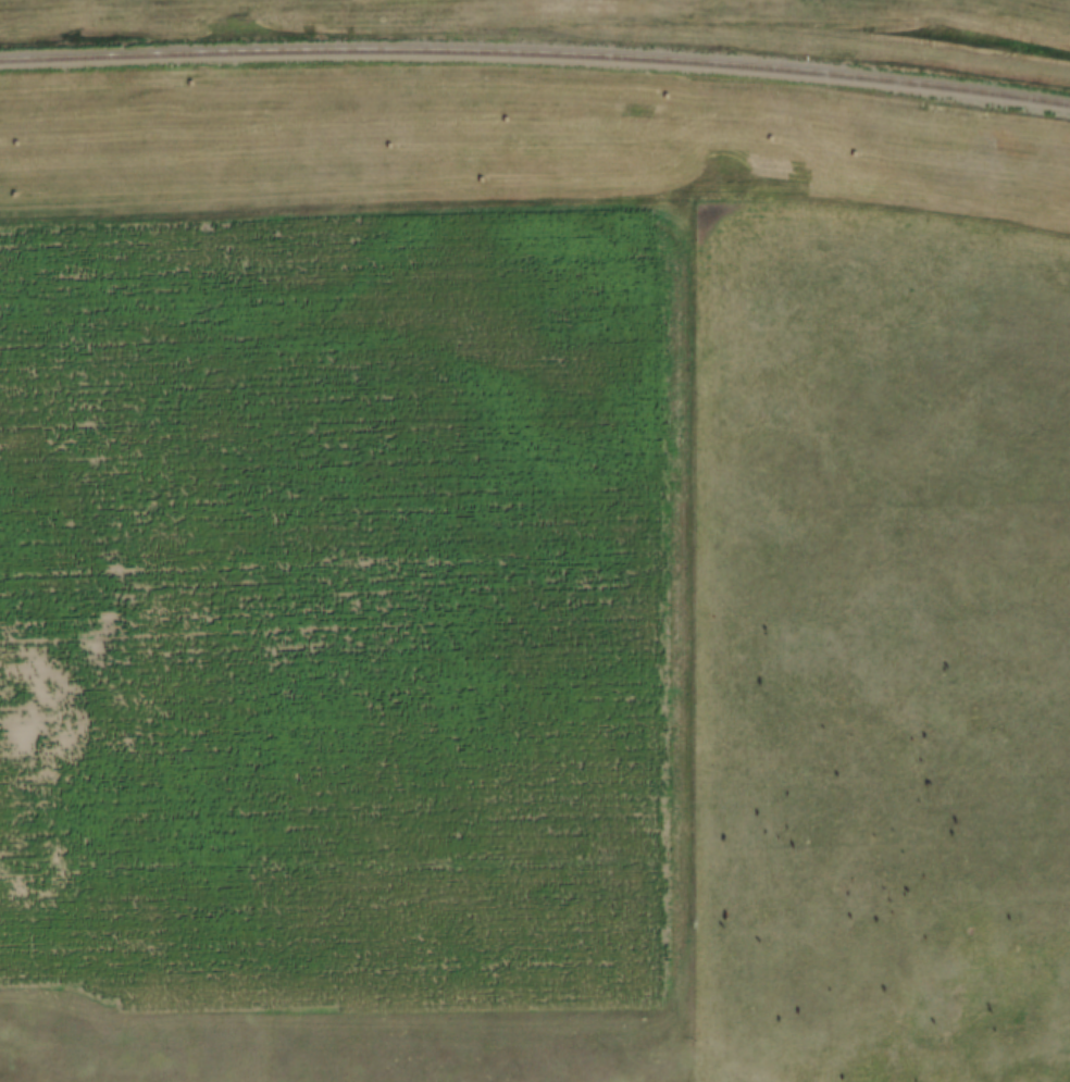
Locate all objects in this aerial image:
railway: (535, 34)

